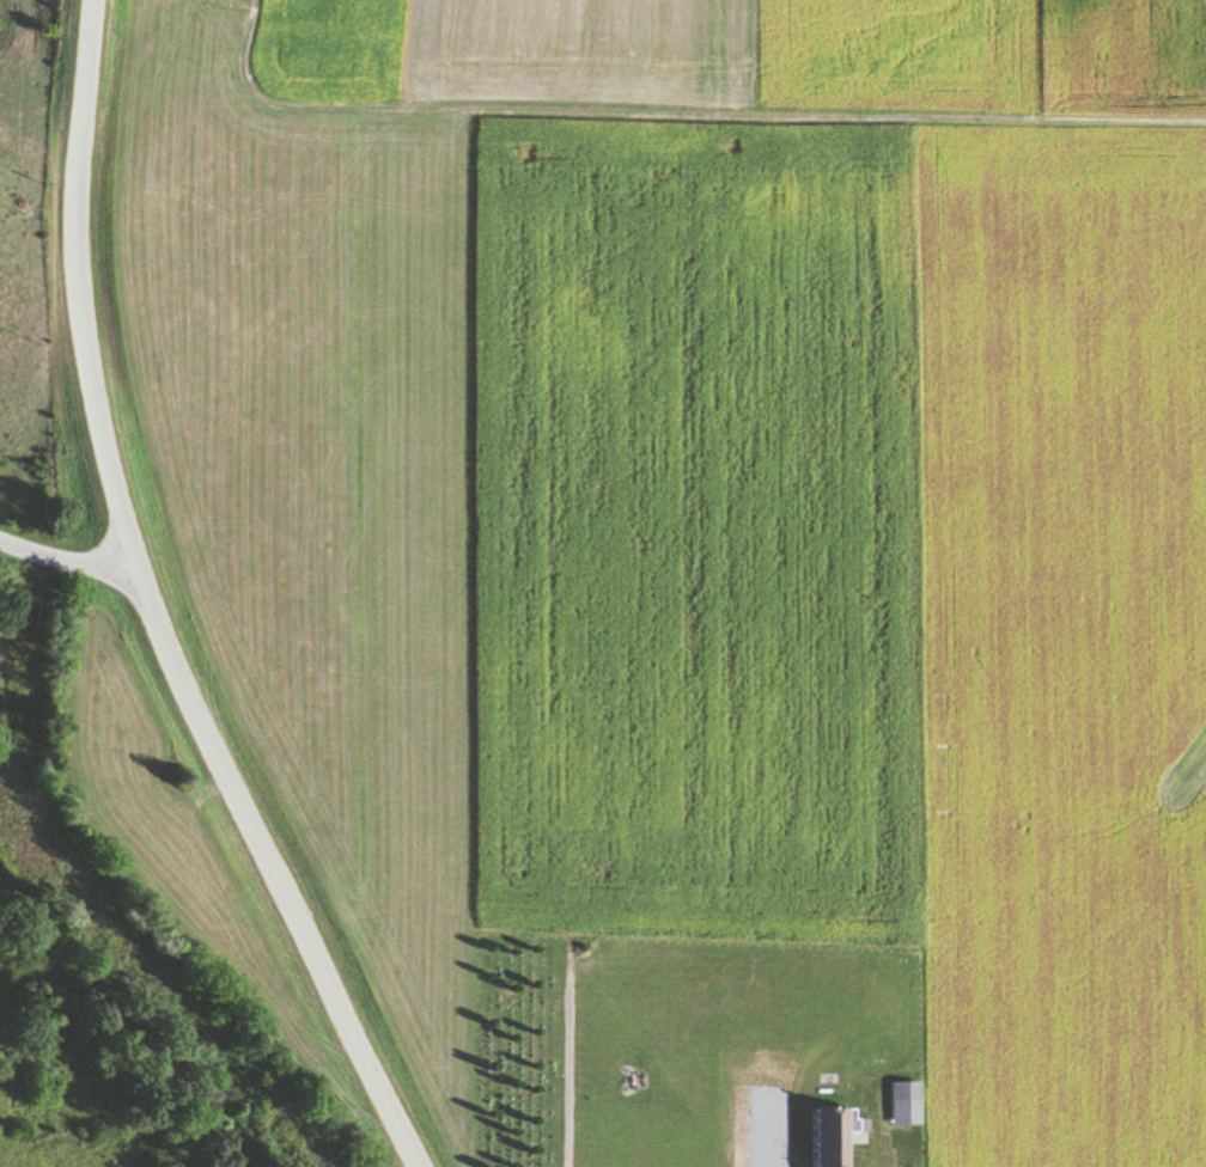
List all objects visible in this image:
road: (65, 562)
road: (147, 610)
park: (519, 1051)
road: (565, 1061)
building: (904, 1093)
building: (913, 1117)
road: (770, 1129)
building: (829, 1138)

